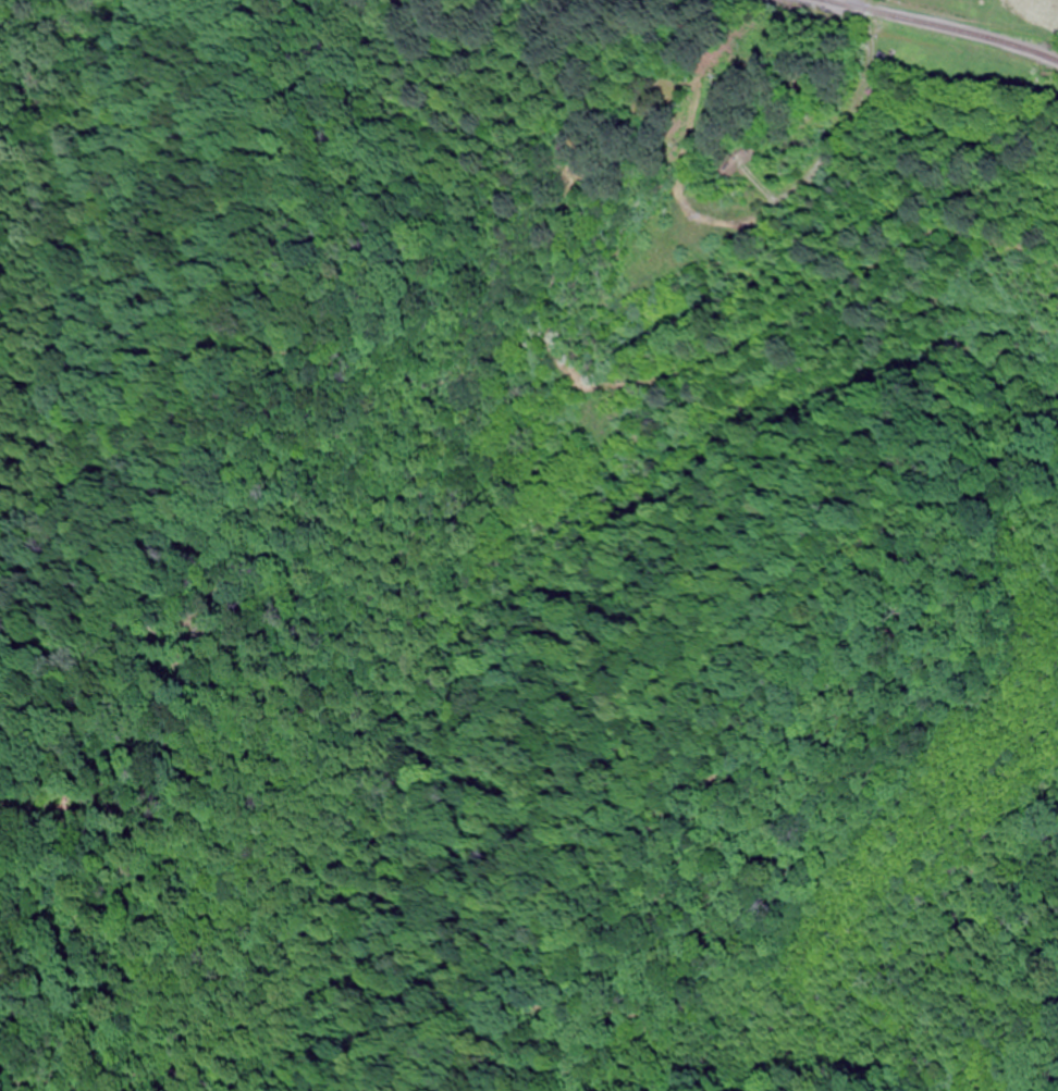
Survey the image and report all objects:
road: (947, 22)
railway: (938, 28)
road: (866, 75)
building: (876, 96)
park: (660, 99)

